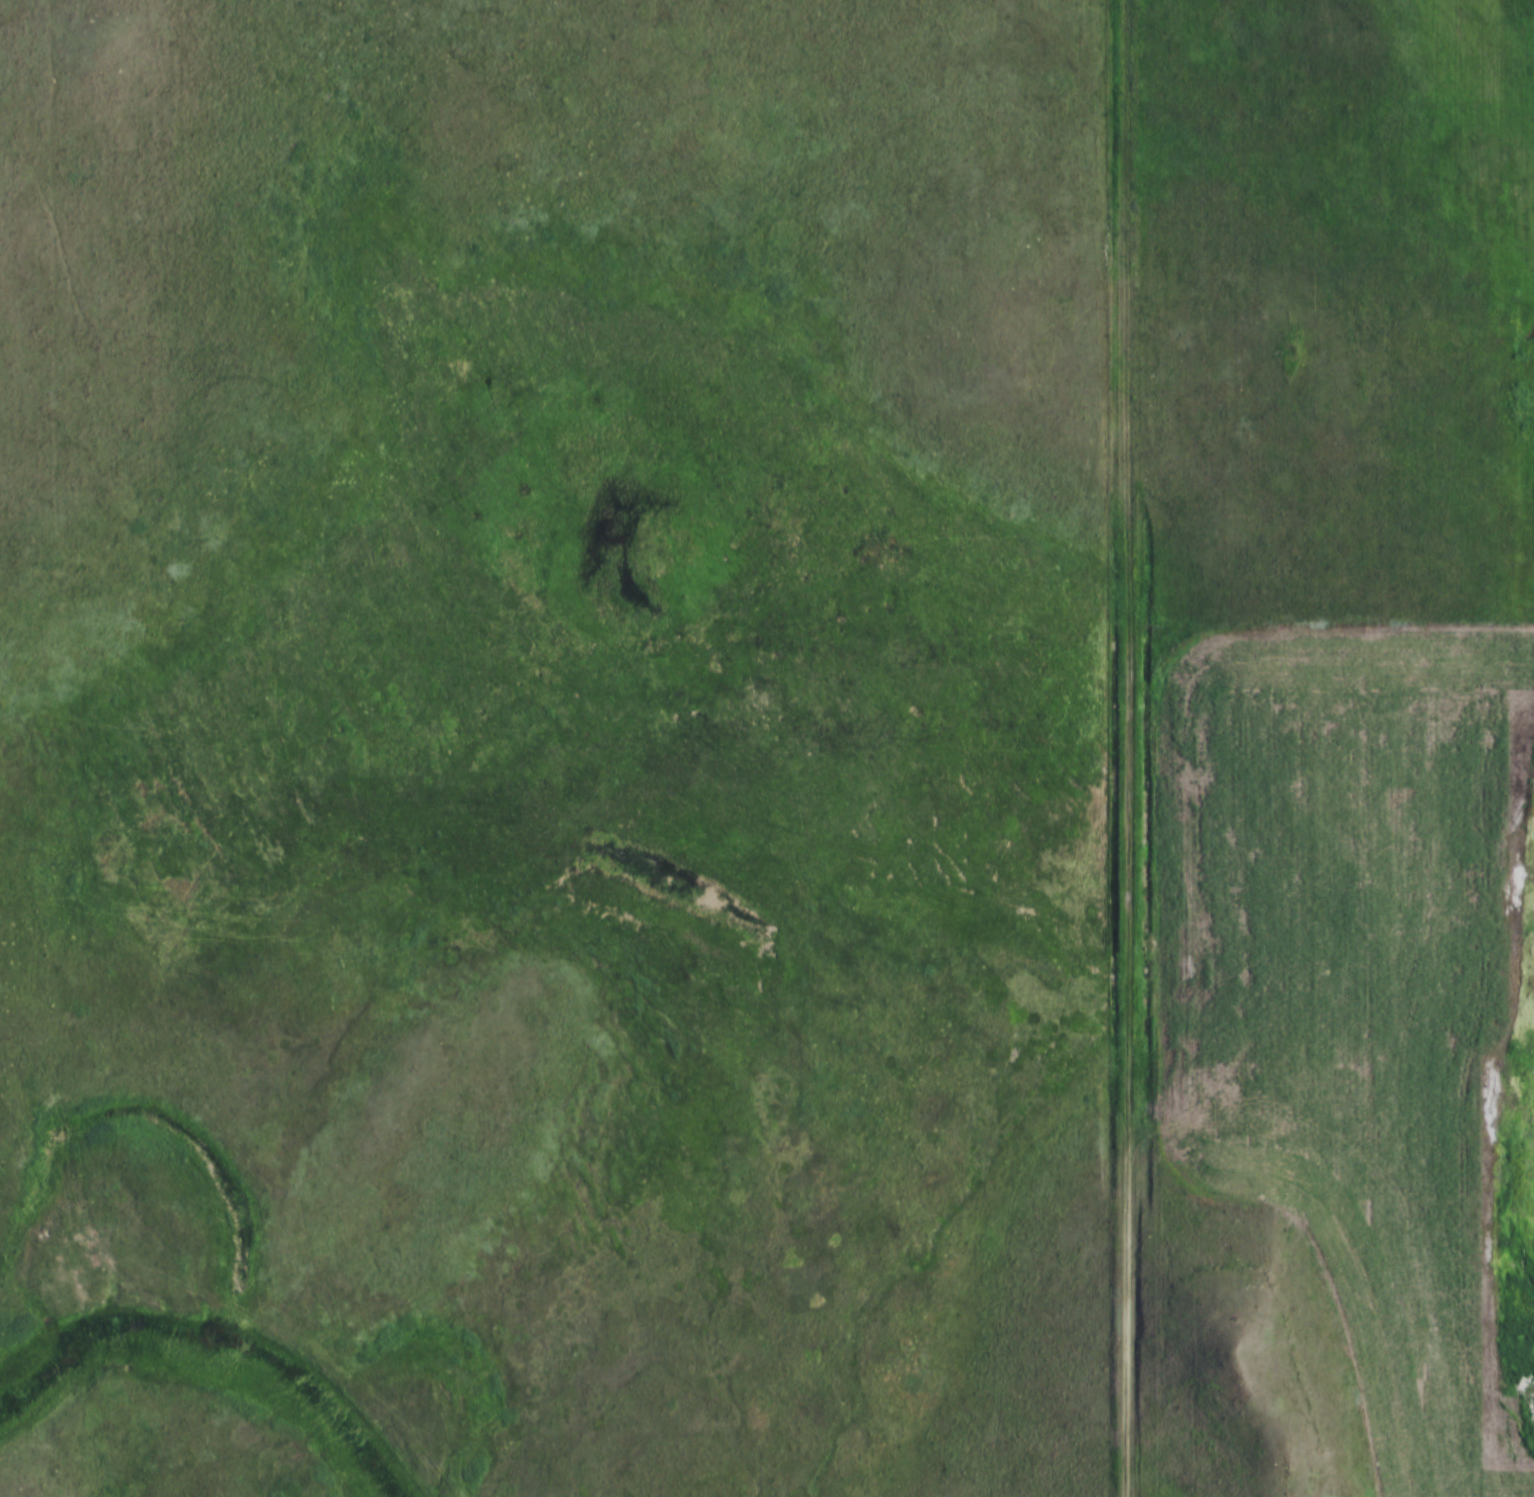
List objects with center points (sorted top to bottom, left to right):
road: (1128, 748)

